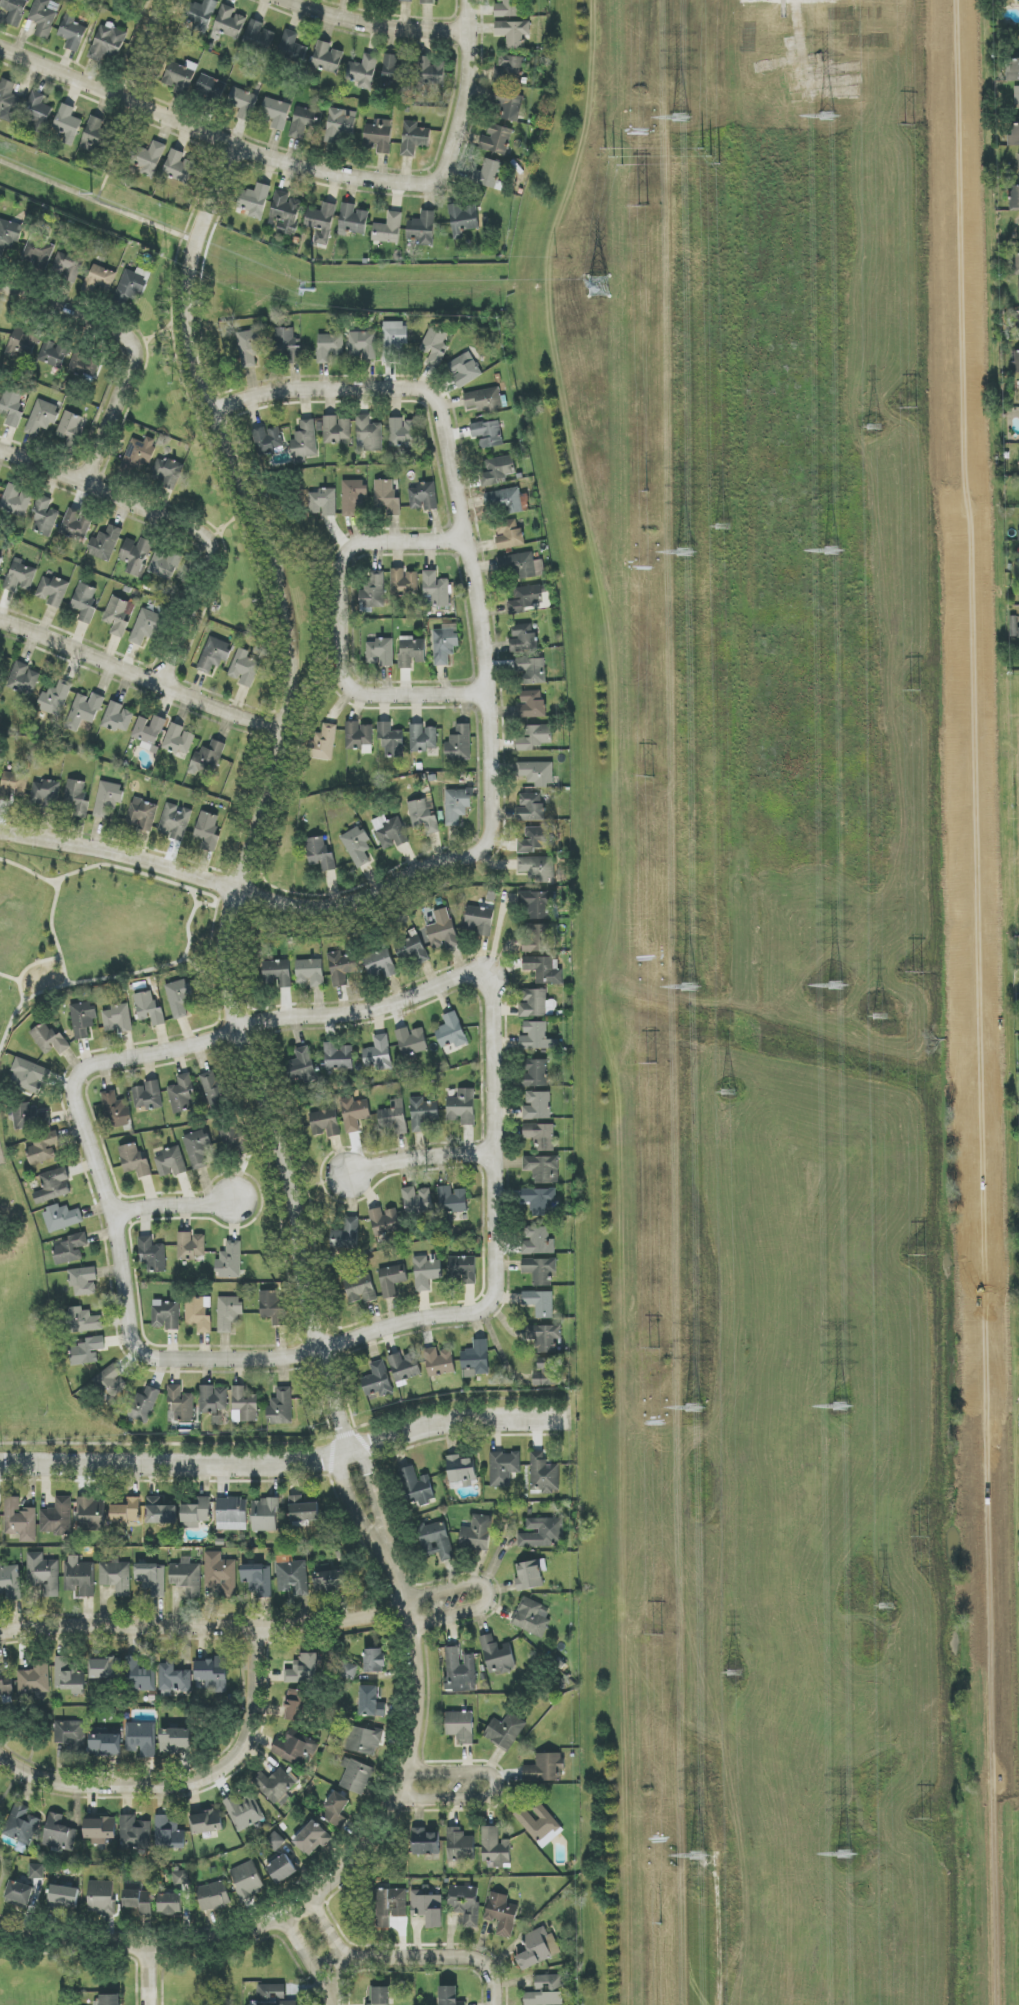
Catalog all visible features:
building: (1018, 0)
building: (406, 1)
building: (428, 2)
building: (509, 8)
building: (14, 11)
building: (200, 15)
building: (44, 16)
building: (229, 22)
road: (371, 27)
building: (72, 32)
building: (514, 33)
building: (258, 37)
building: (107, 43)
building: (292, 47)
road: (142, 49)
building: (327, 58)
building: (1013, 69)
building: (509, 70)
building: (364, 72)
building: (396, 72)
building: (430, 72)
building: (178, 77)
building: (210, 88)
road: (464, 90)
building: (1016, 95)
building: (9, 101)
building: (243, 103)
building: (37, 112)
building: (275, 113)
power tower: (827, 117)
power tower: (680, 119)
building: (304, 122)
building: (67, 124)
building: (339, 125)
power tower: (909, 128)
building: (1014, 134)
building: (97, 135)
building: (379, 135)
building: (414, 138)
building: (496, 140)
road: (214, 141)
building: (1018, 153)
road: (117, 155)
building: (148, 158)
building: (179, 167)
building: (487, 174)
building: (1014, 198)
building: (254, 200)
road: (97, 203)
power tower: (644, 205)
building: (286, 212)
building: (463, 219)
building: (353, 220)
building: (321, 223)
building: (389, 229)
building: (423, 229)
building: (9, 236)
building: (38, 254)
building: (1018, 261)
building: (68, 266)
building: (100, 279)
building: (134, 285)
building: (1018, 289)
building: (0, 333)
road: (157, 336)
building: (394, 340)
building: (23, 343)
road: (129, 343)
building: (288, 345)
building: (362, 345)
building: (250, 347)
building: (329, 347)
building: (435, 347)
building: (54, 354)
building: (1015, 363)
building: (85, 364)
building: (465, 369)
road: (298, 387)
building: (1018, 388)
building: (484, 400)
building: (12, 407)
power tower: (913, 407)
building: (42, 417)
building: (69, 427)
power tower: (873, 428)
building: (337, 430)
building: (402, 432)
building: (488, 434)
building: (369, 435)
building: (268, 439)
building: (305, 440)
building: (139, 455)
building: (498, 470)
building: (167, 473)
power tower: (649, 492)
building: (353, 496)
building: (387, 497)
building: (424, 497)
building: (16, 500)
building: (508, 500)
building: (324, 502)
building: (45, 516)
road: (179, 520)
road: (275, 524)
building: (76, 525)
power tower: (721, 527)
building: (509, 535)
building: (1018, 535)
road: (372, 543)
building: (105, 544)
power tower: (685, 551)
power tower: (832, 551)
building: (0, 555)
building: (136, 555)
building: (165, 563)
building: (521, 565)
building: (20, 576)
building: (404, 582)
road: (475, 587)
building: (435, 590)
building: (53, 591)
building: (374, 593)
building: (525, 599)
building: (85, 602)
building: (117, 616)
building: (146, 626)
building: (1018, 632)
building: (523, 638)
building: (445, 644)
building: (381, 652)
building: (411, 652)
building: (213, 655)
building: (245, 668)
building: (532, 670)
building: (23, 679)
road: (142, 679)
power tower: (914, 691)
road: (381, 695)
building: (56, 698)
road: (312, 702)
building: (533, 705)
building: (84, 711)
building: (118, 718)
building: (149, 732)
building: (359, 737)
building: (535, 737)
building: (423, 738)
building: (179, 740)
building: (391, 740)
building: (324, 743)
building: (460, 744)
road: (1012, 749)
building: (208, 759)
building: (536, 773)
power tower: (650, 777)
building: (13, 786)
park: (1014, 790)
building: (45, 794)
road: (267, 797)
building: (76, 798)
building: (108, 799)
building: (456, 806)
building: (531, 808)
building: (142, 814)
building: (424, 815)
building: (175, 822)
building: (208, 831)
building: (390, 832)
building: (536, 839)
building: (357, 846)
building: (320, 854)
road: (1013, 862)
building: (537, 868)
road: (253, 897)
building: (537, 903)
building: (479, 921)
park: (85, 931)
building: (443, 931)
road: (496, 936)
building: (537, 938)
building: (411, 951)
building: (381, 963)
building: (342, 968)
building: (545, 969)
building: (278, 973)
building: (310, 973)
power tower: (917, 974)
power tower: (835, 986)
power tower: (687, 988)
building: (179, 998)
road: (709, 1002)
building: (534, 1003)
building: (149, 1009)
power tower: (880, 1015)
building: (83, 1019)
building: (118, 1019)
building: (451, 1031)
building: (537, 1036)
building: (49, 1040)
building: (411, 1041)
building: (378, 1053)
building: (337, 1057)
building: (302, 1065)
power tower: (653, 1065)
building: (536, 1073)
building: (29, 1076)
building: (213, 1091)
power tower: (729, 1092)
building: (181, 1093)
building: (149, 1096)
road: (491, 1102)
building: (538, 1106)
building: (462, 1107)
building: (116, 1110)
building: (354, 1114)
building: (423, 1114)
building: (30, 1116)
building: (394, 1117)
building: (325, 1123)
building: (236, 1136)
building: (541, 1136)
building: (198, 1148)
building: (43, 1149)
road: (418, 1160)
building: (135, 1161)
building: (171, 1162)
building: (543, 1169)
building: (53, 1186)
building: (417, 1200)
building: (540, 1201)
building: (452, 1202)
road: (176, 1206)
building: (61, 1218)
road: (119, 1222)
building: (385, 1222)
building: (346, 1235)
building: (539, 1242)
building: (191, 1246)
building: (71, 1249)
building: (152, 1255)
power tower: (920, 1258)
building: (230, 1261)
building: (462, 1270)
building: (540, 1270)
building: (426, 1272)
building: (392, 1280)
building: (84, 1281)
building: (360, 1288)
building: (540, 1303)
building: (272, 1308)
building: (229, 1313)
building: (199, 1314)
building: (166, 1315)
building: (83, 1321)
building: (547, 1337)
building: (96, 1344)
power tower: (654, 1348)
building: (476, 1359)
building: (440, 1362)
building: (404, 1367)
building: (547, 1372)
building: (377, 1380)
building: (113, 1381)
building: (214, 1401)
building: (181, 1404)
building: (142, 1405)
building: (244, 1405)
building: (281, 1407)
power tower: (840, 1407)
power tower: (691, 1410)
road: (285, 1462)
building: (504, 1468)
building: (461, 1471)
building: (544, 1474)
building: (417, 1487)
road: (374, 1498)
road: (354, 1508)
building: (303, 1510)
building: (127, 1511)
building: (161, 1512)
building: (92, 1514)
building: (196, 1514)
building: (232, 1514)
building: (264, 1515)
building: (0, 1517)
building: (57, 1518)
building: (20, 1520)
building: (541, 1533)
building: (477, 1534)
power tower: (924, 1540)
building: (436, 1541)
building: (220, 1573)
building: (43, 1574)
building: (529, 1575)
building: (79, 1576)
building: (116, 1577)
building: (187, 1577)
building: (151, 1578)
building: (292, 1578)
building: (258, 1579)
building: (10, 1581)
building: (330, 1581)
road: (487, 1593)
power tower: (884, 1607)
building: (532, 1617)
road: (205, 1633)
power tower: (658, 1634)
building: (497, 1655)
building: (374, 1660)
building: (304, 1670)
building: (459, 1670)
building: (349, 1671)
building: (125, 1672)
building: (213, 1674)
power tower: (734, 1675)
building: (69, 1676)
building: (175, 1678)
building: (35, 1679)
building: (6, 1688)
building: (371, 1702)
building: (297, 1705)
building: (460, 1726)
building: (505, 1731)
building: (72, 1735)
building: (141, 1739)
building: (175, 1740)
building: (364, 1741)
building: (105, 1744)
building: (294, 1748)
building: (546, 1768)
building: (356, 1776)
building: (279, 1786)
road: (187, 1790)
road: (497, 1791)
building: (336, 1810)
building: (243, 1812)
building: (207, 1822)
power tower: (925, 1822)
building: (539, 1824)
building: (22, 1825)
building: (100, 1830)
building: (59, 1834)
building: (135, 1834)
building: (169, 1834)
building: (312, 1838)
building: (275, 1842)
building: (425, 1842)
building: (460, 1845)
building: (496, 1849)
power tower: (844, 1857)
power tower: (696, 1859)
building: (282, 1869)
building: (36, 1871)
building: (180, 1878)
road: (337, 1880)
building: (247, 1881)
building: (19, 1895)
building: (64, 1896)
building: (214, 1896)
building: (101, 1897)
building: (139, 1901)
building: (465, 1903)
building: (170, 1904)
building: (390, 1906)
building: (427, 1907)
building: (502, 1914)
power tower: (661, 1921)
road: (326, 1931)
road: (304, 1947)
building: (538, 1948)
road: (429, 1959)
road: (143, 1976)
road: (332, 1985)
building: (546, 1991)
building: (272, 1995)
building: (380, 1996)
building: (449, 1996)
building: (110, 1999)

